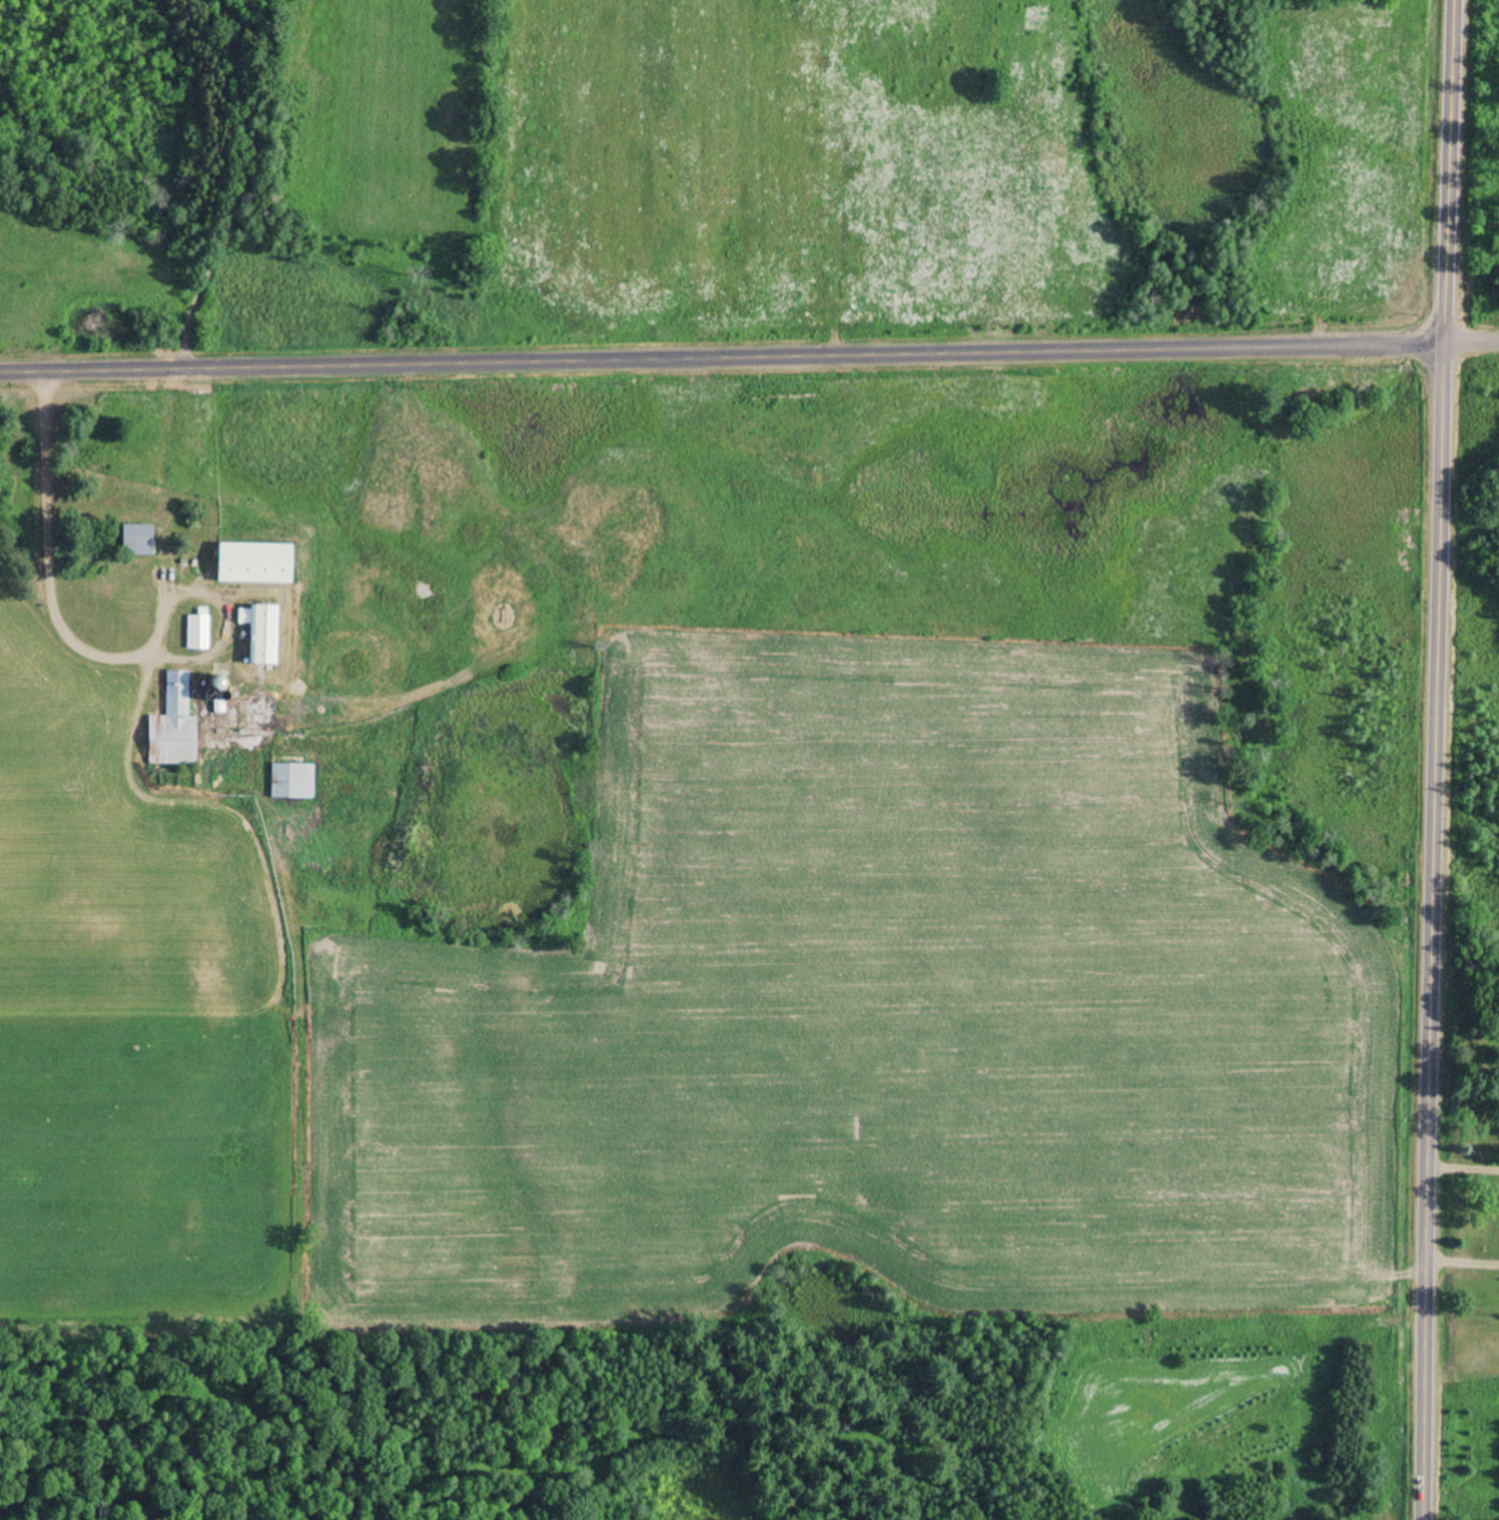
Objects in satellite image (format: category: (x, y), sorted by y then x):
road: (1470, 347)
road: (721, 361)
building: (136, 538)
building: (197, 631)
building: (260, 635)
building: (212, 685)
building: (172, 728)
road: (1435, 759)
building: (291, 783)

